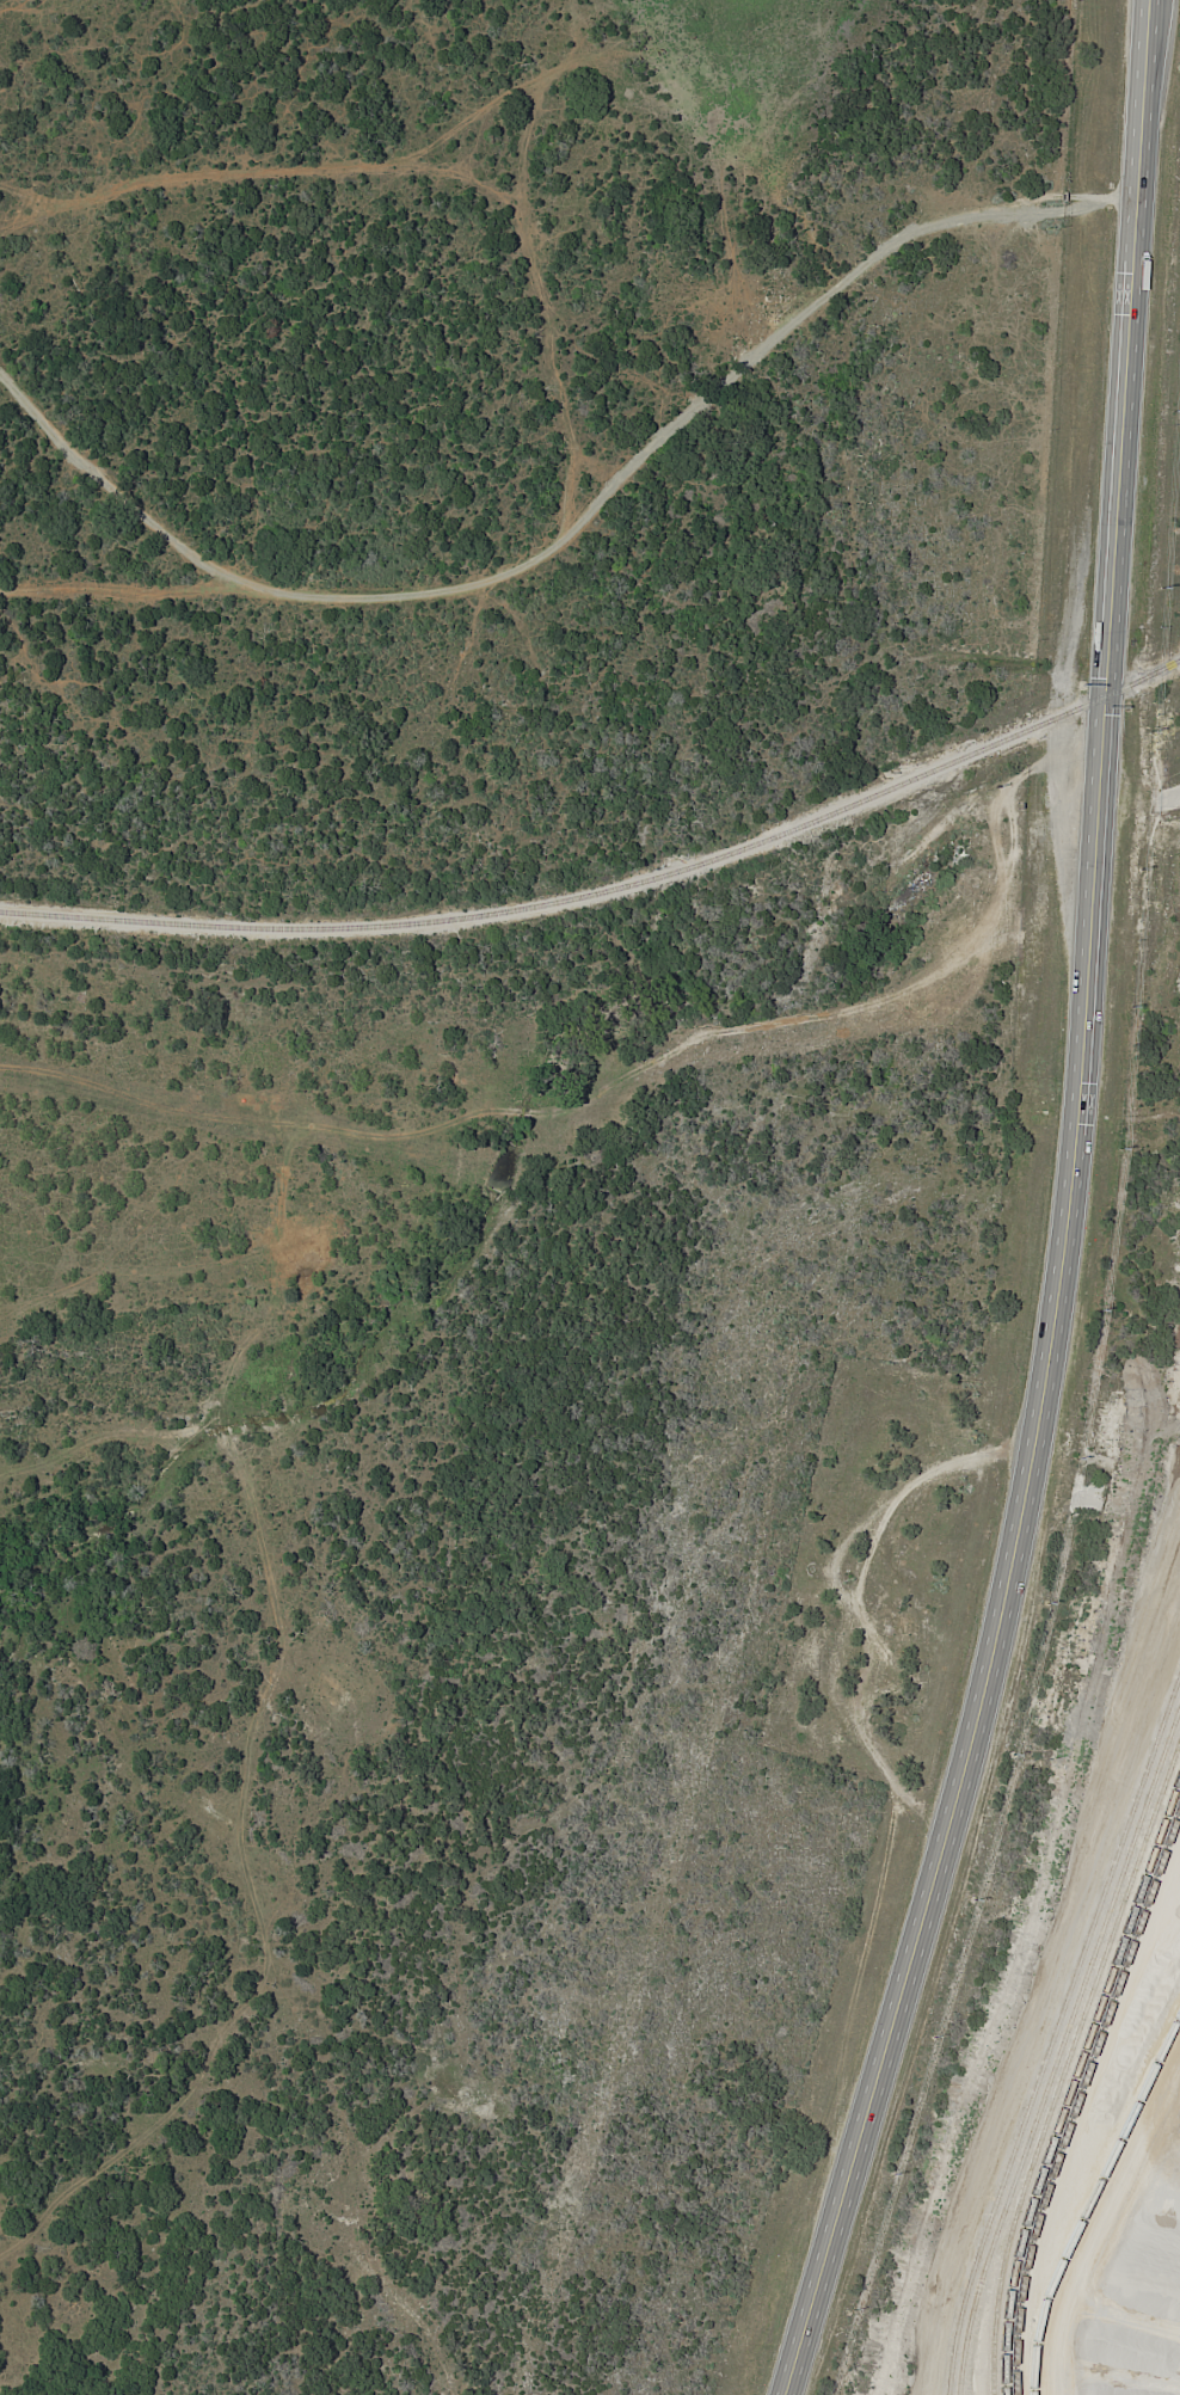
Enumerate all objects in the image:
road: (604, 497)
road: (121, 502)
road: (1169, 799)
railway: (610, 892)
road: (1064, 1212)
road: (849, 1604)
railway: (1176, 1748)
road: (1044, 2010)
quarry: (1078, 2015)
railway: (1062, 2047)
railway: (1067, 2061)
railway: (1071, 2077)
railway: (1078, 2095)
road: (1108, 2228)
railway: (971, 2262)

